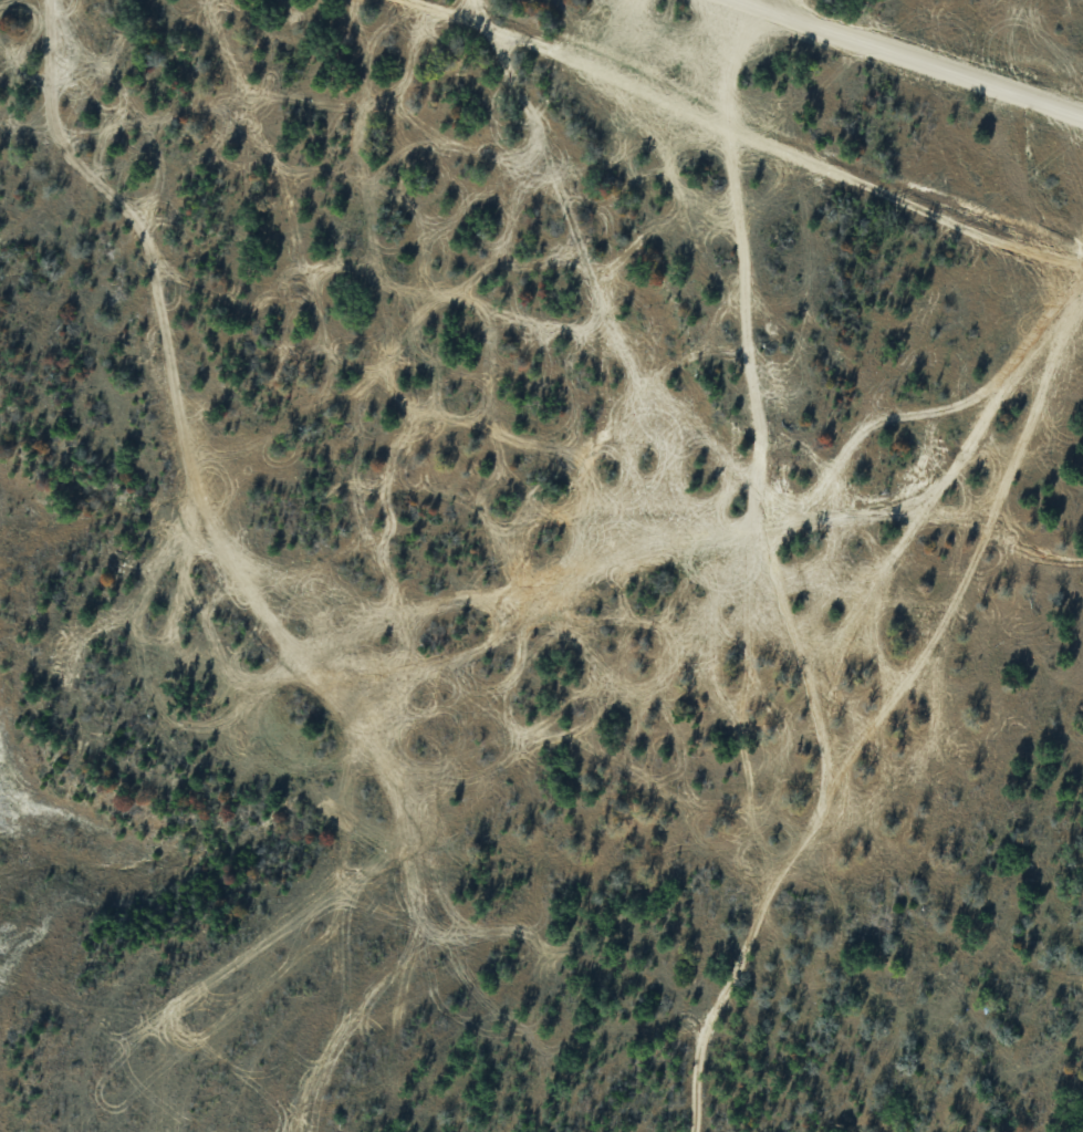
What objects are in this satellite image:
road: (924, 55)

